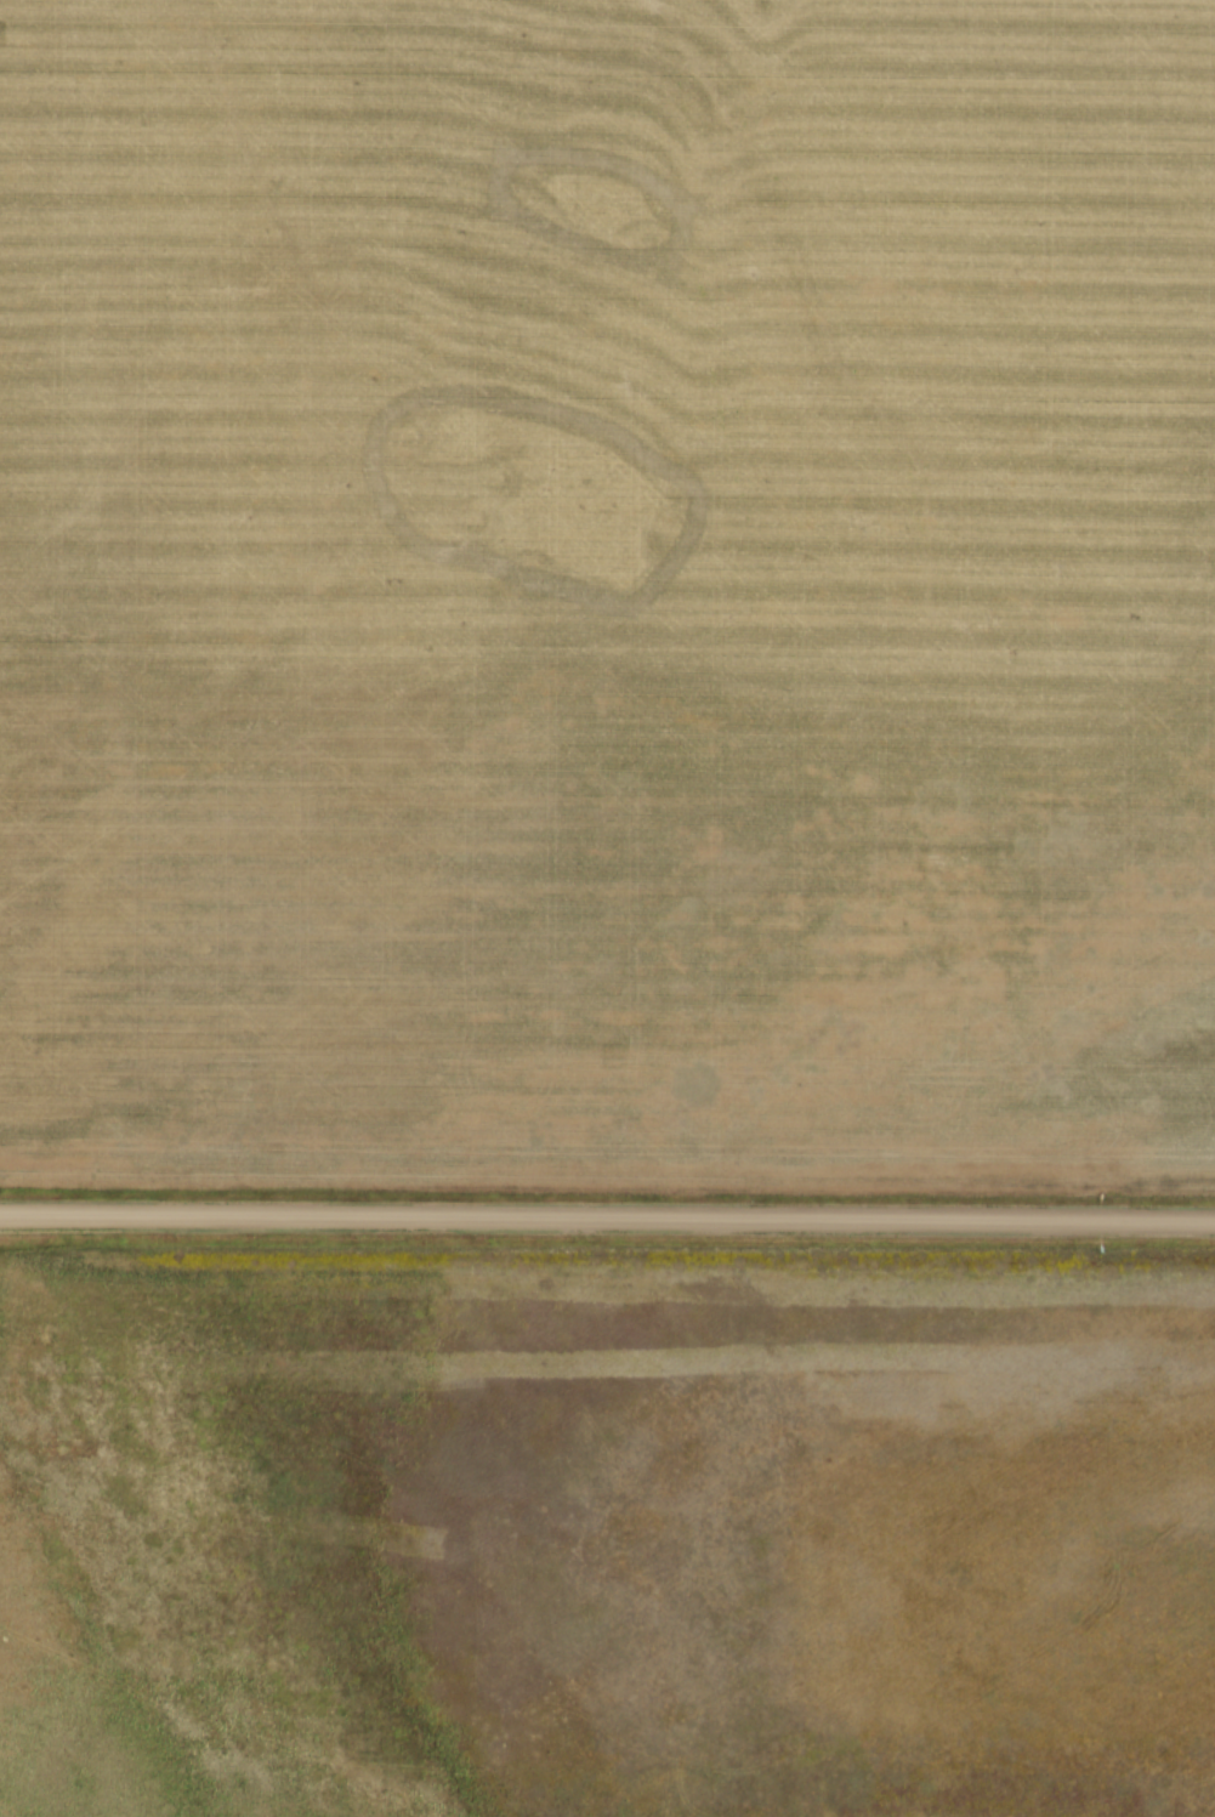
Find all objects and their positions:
crop: (608, 594)
road: (607, 1219)

